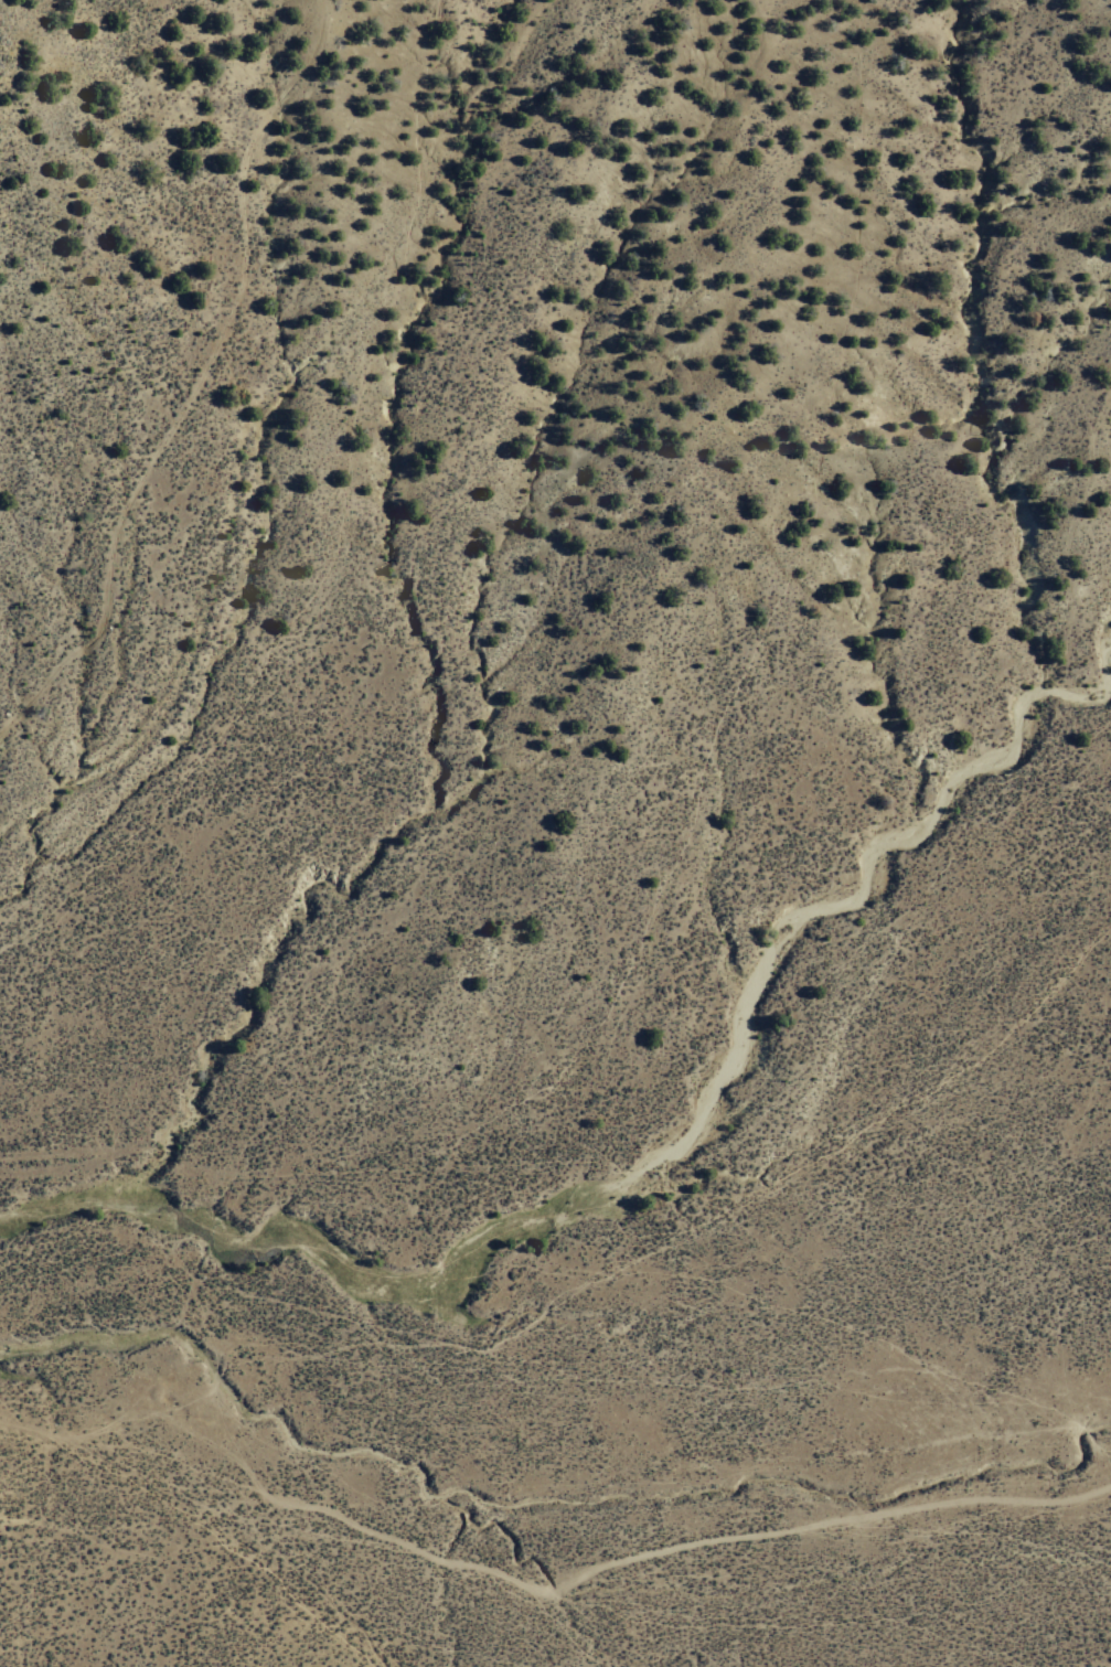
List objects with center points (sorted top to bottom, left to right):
road: (193, 382)
crop: (228, 1223)
road: (159, 1530)
road: (538, 1590)

